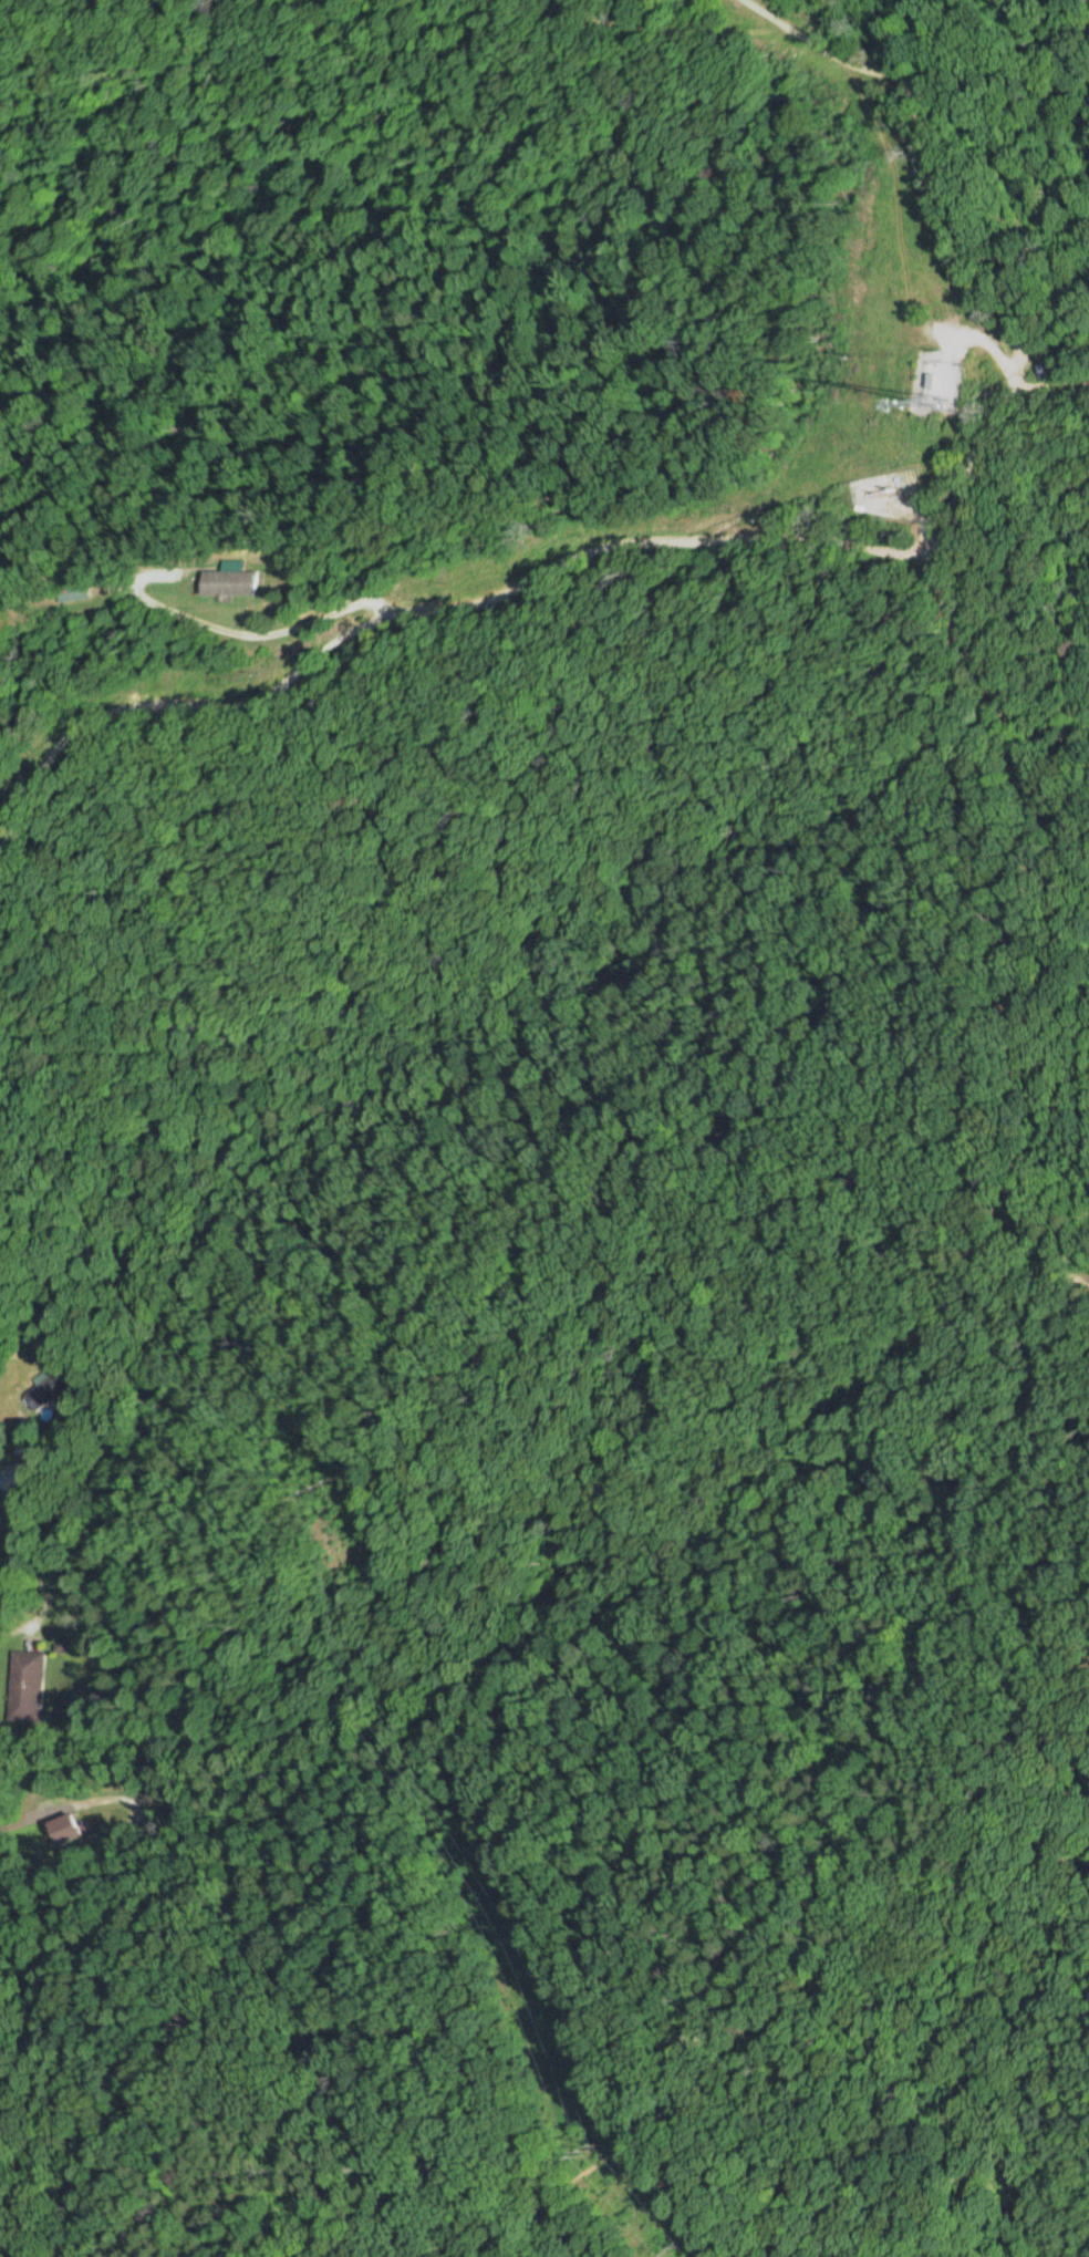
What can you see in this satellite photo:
building: (1049, 365)
road: (758, 521)
building: (224, 579)
building: (71, 590)
building: (53, 1387)
building: (18, 1442)
road: (35, 1575)
building: (25, 1685)

